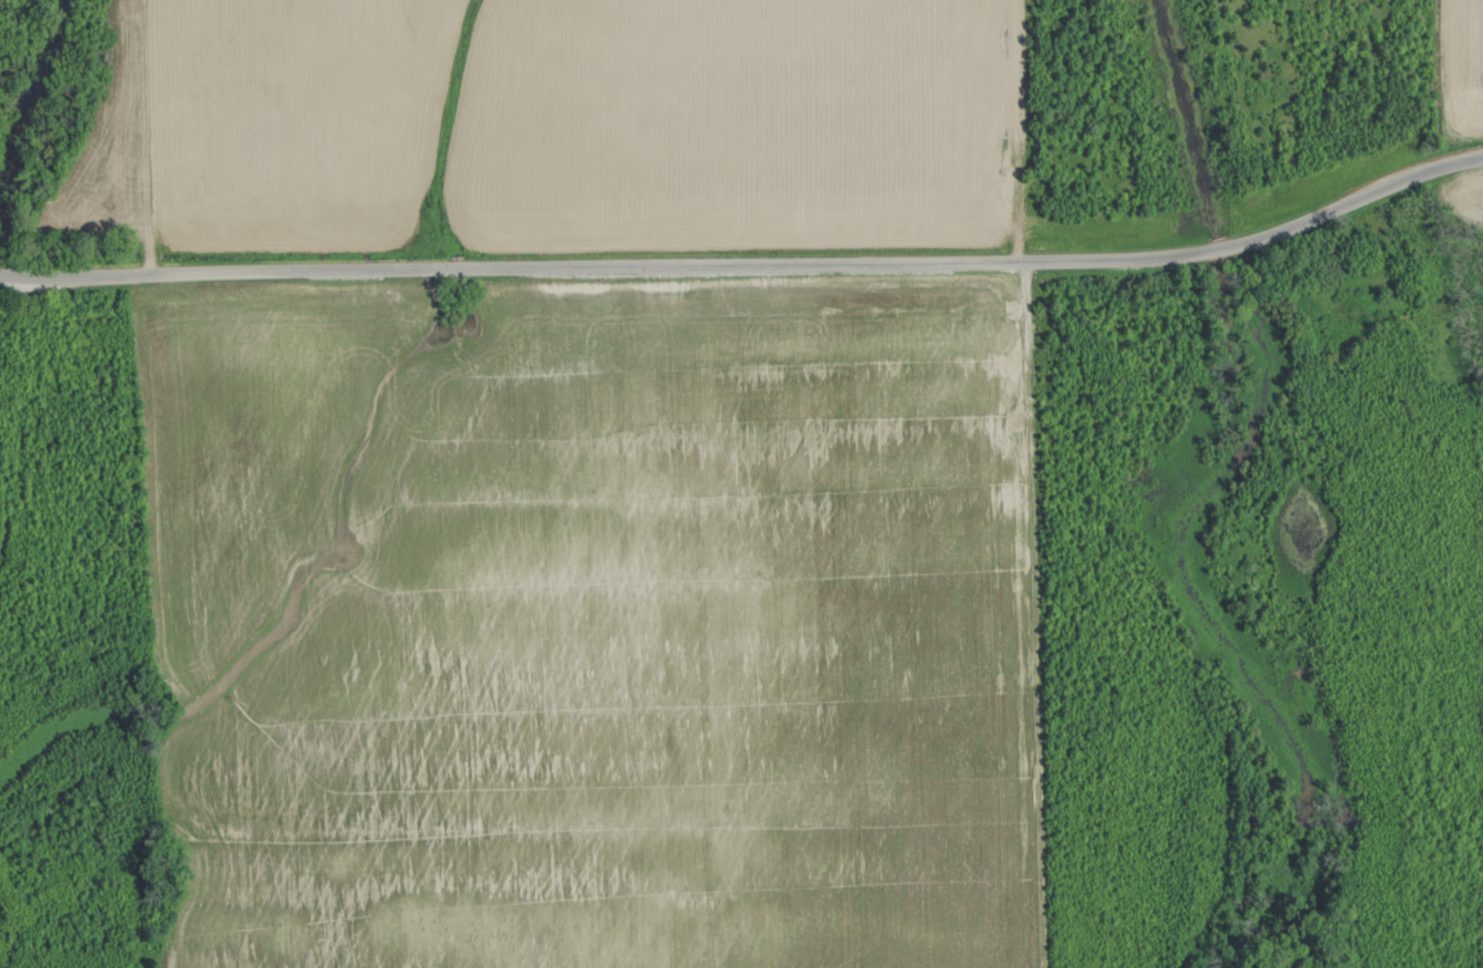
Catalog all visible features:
river: (27, 77)
road: (751, 264)

